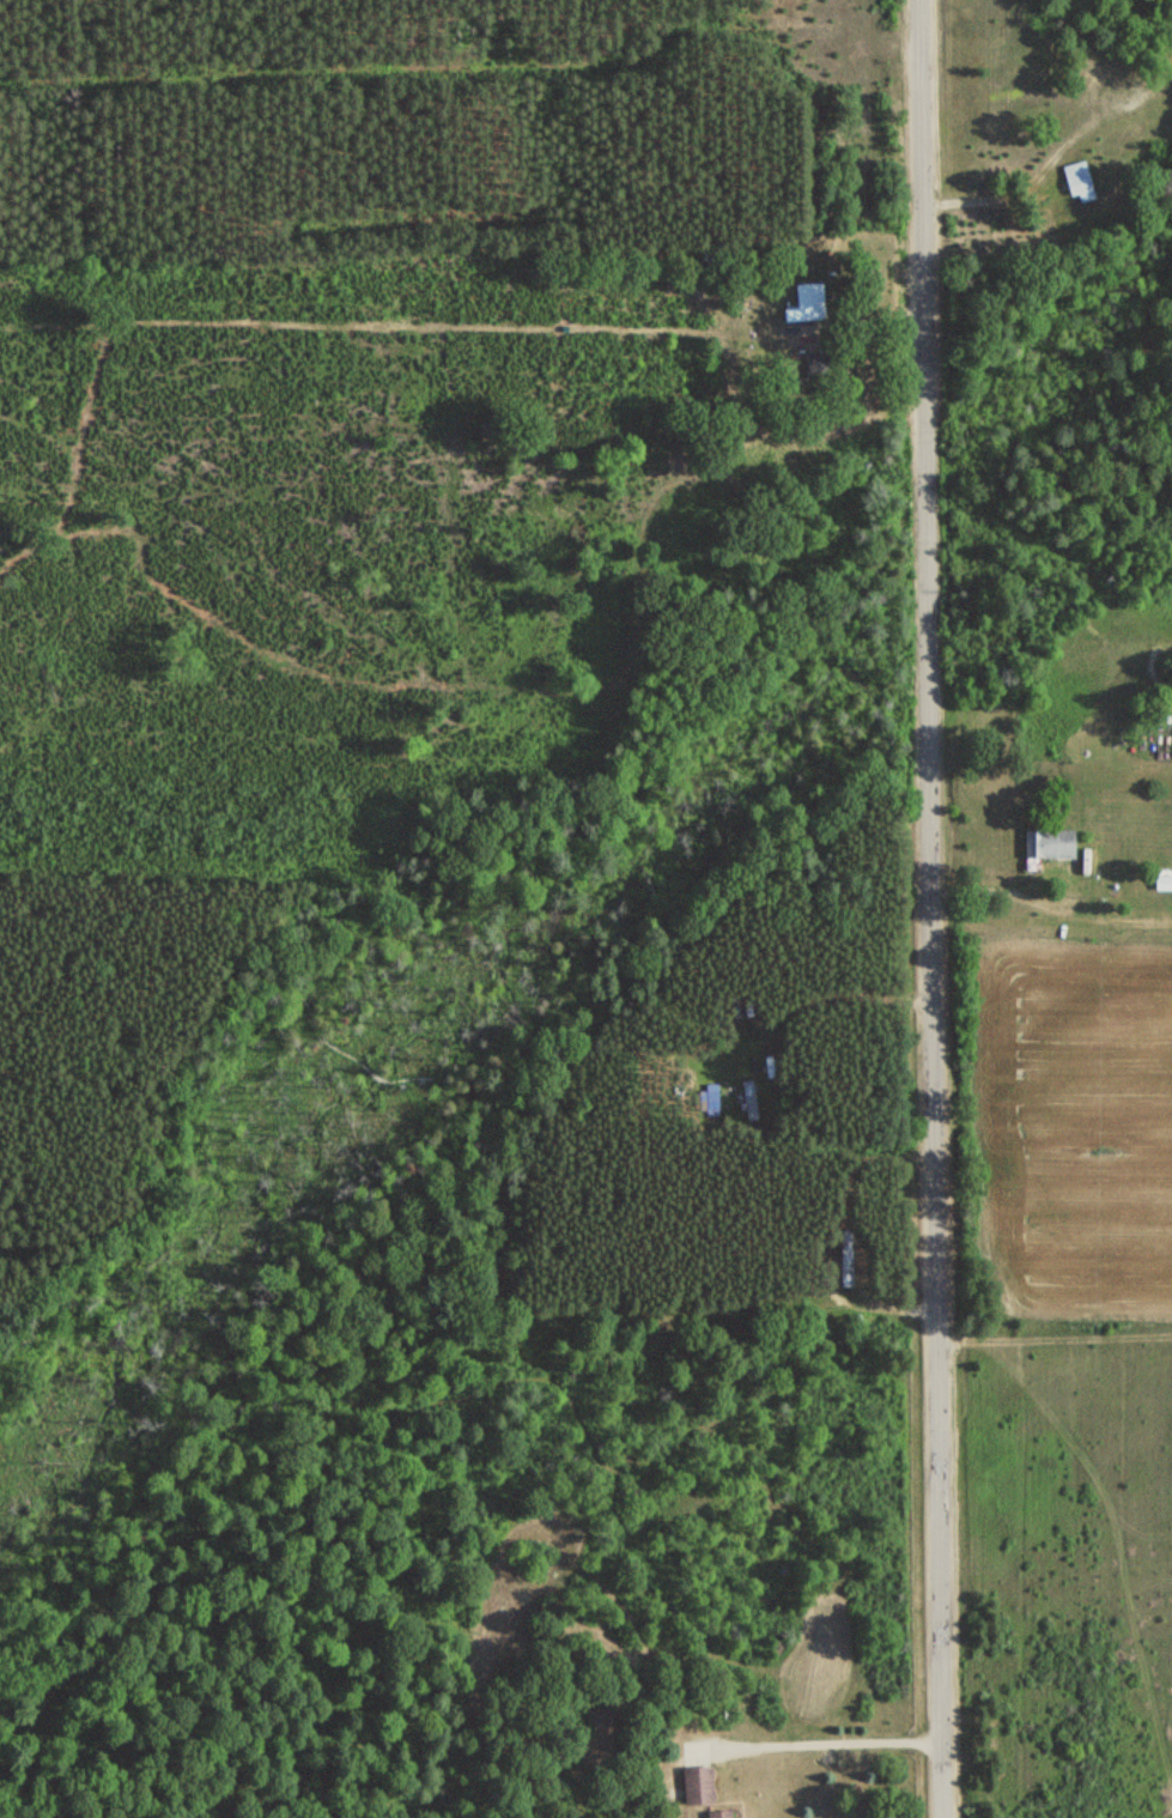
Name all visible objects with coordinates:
building: (1079, 186)
building: (1047, 844)
road: (929, 908)
building: (844, 1266)
road: (824, 1738)
building: (694, 1786)
building: (713, 1814)

